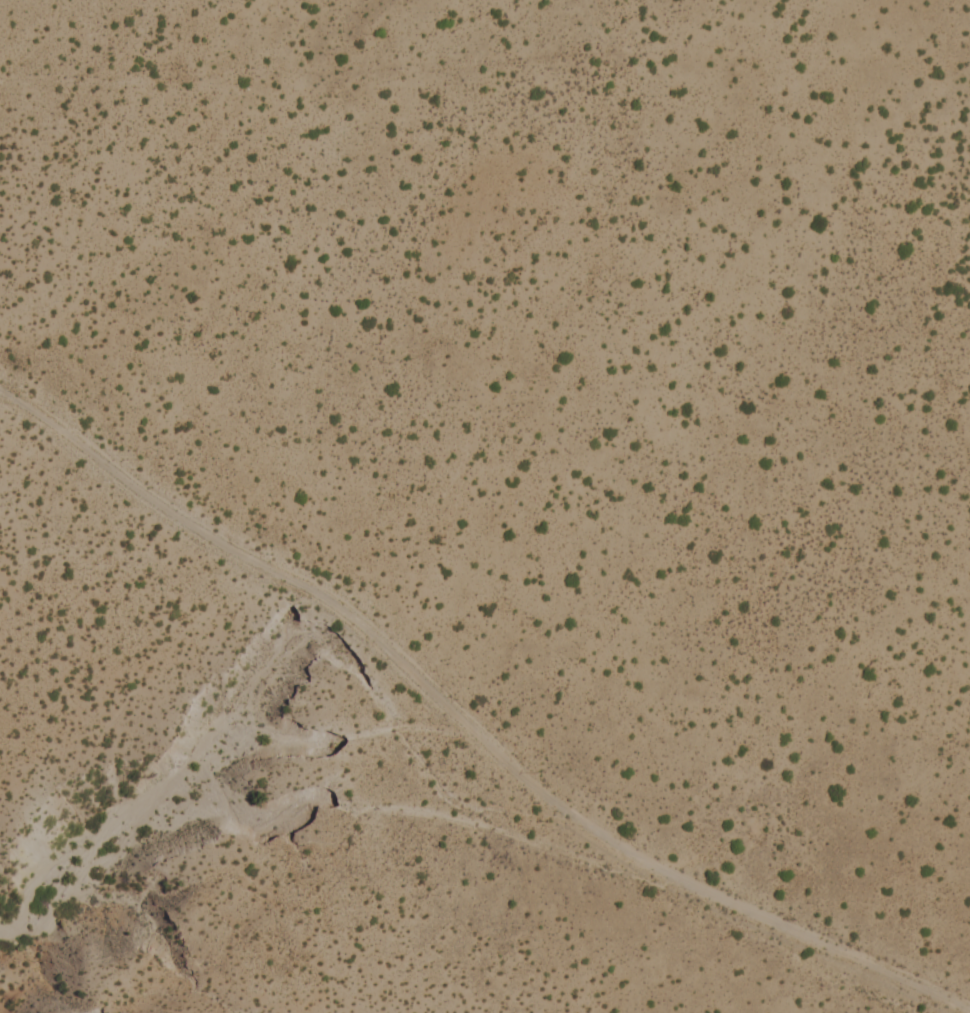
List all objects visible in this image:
road: (467, 723)

